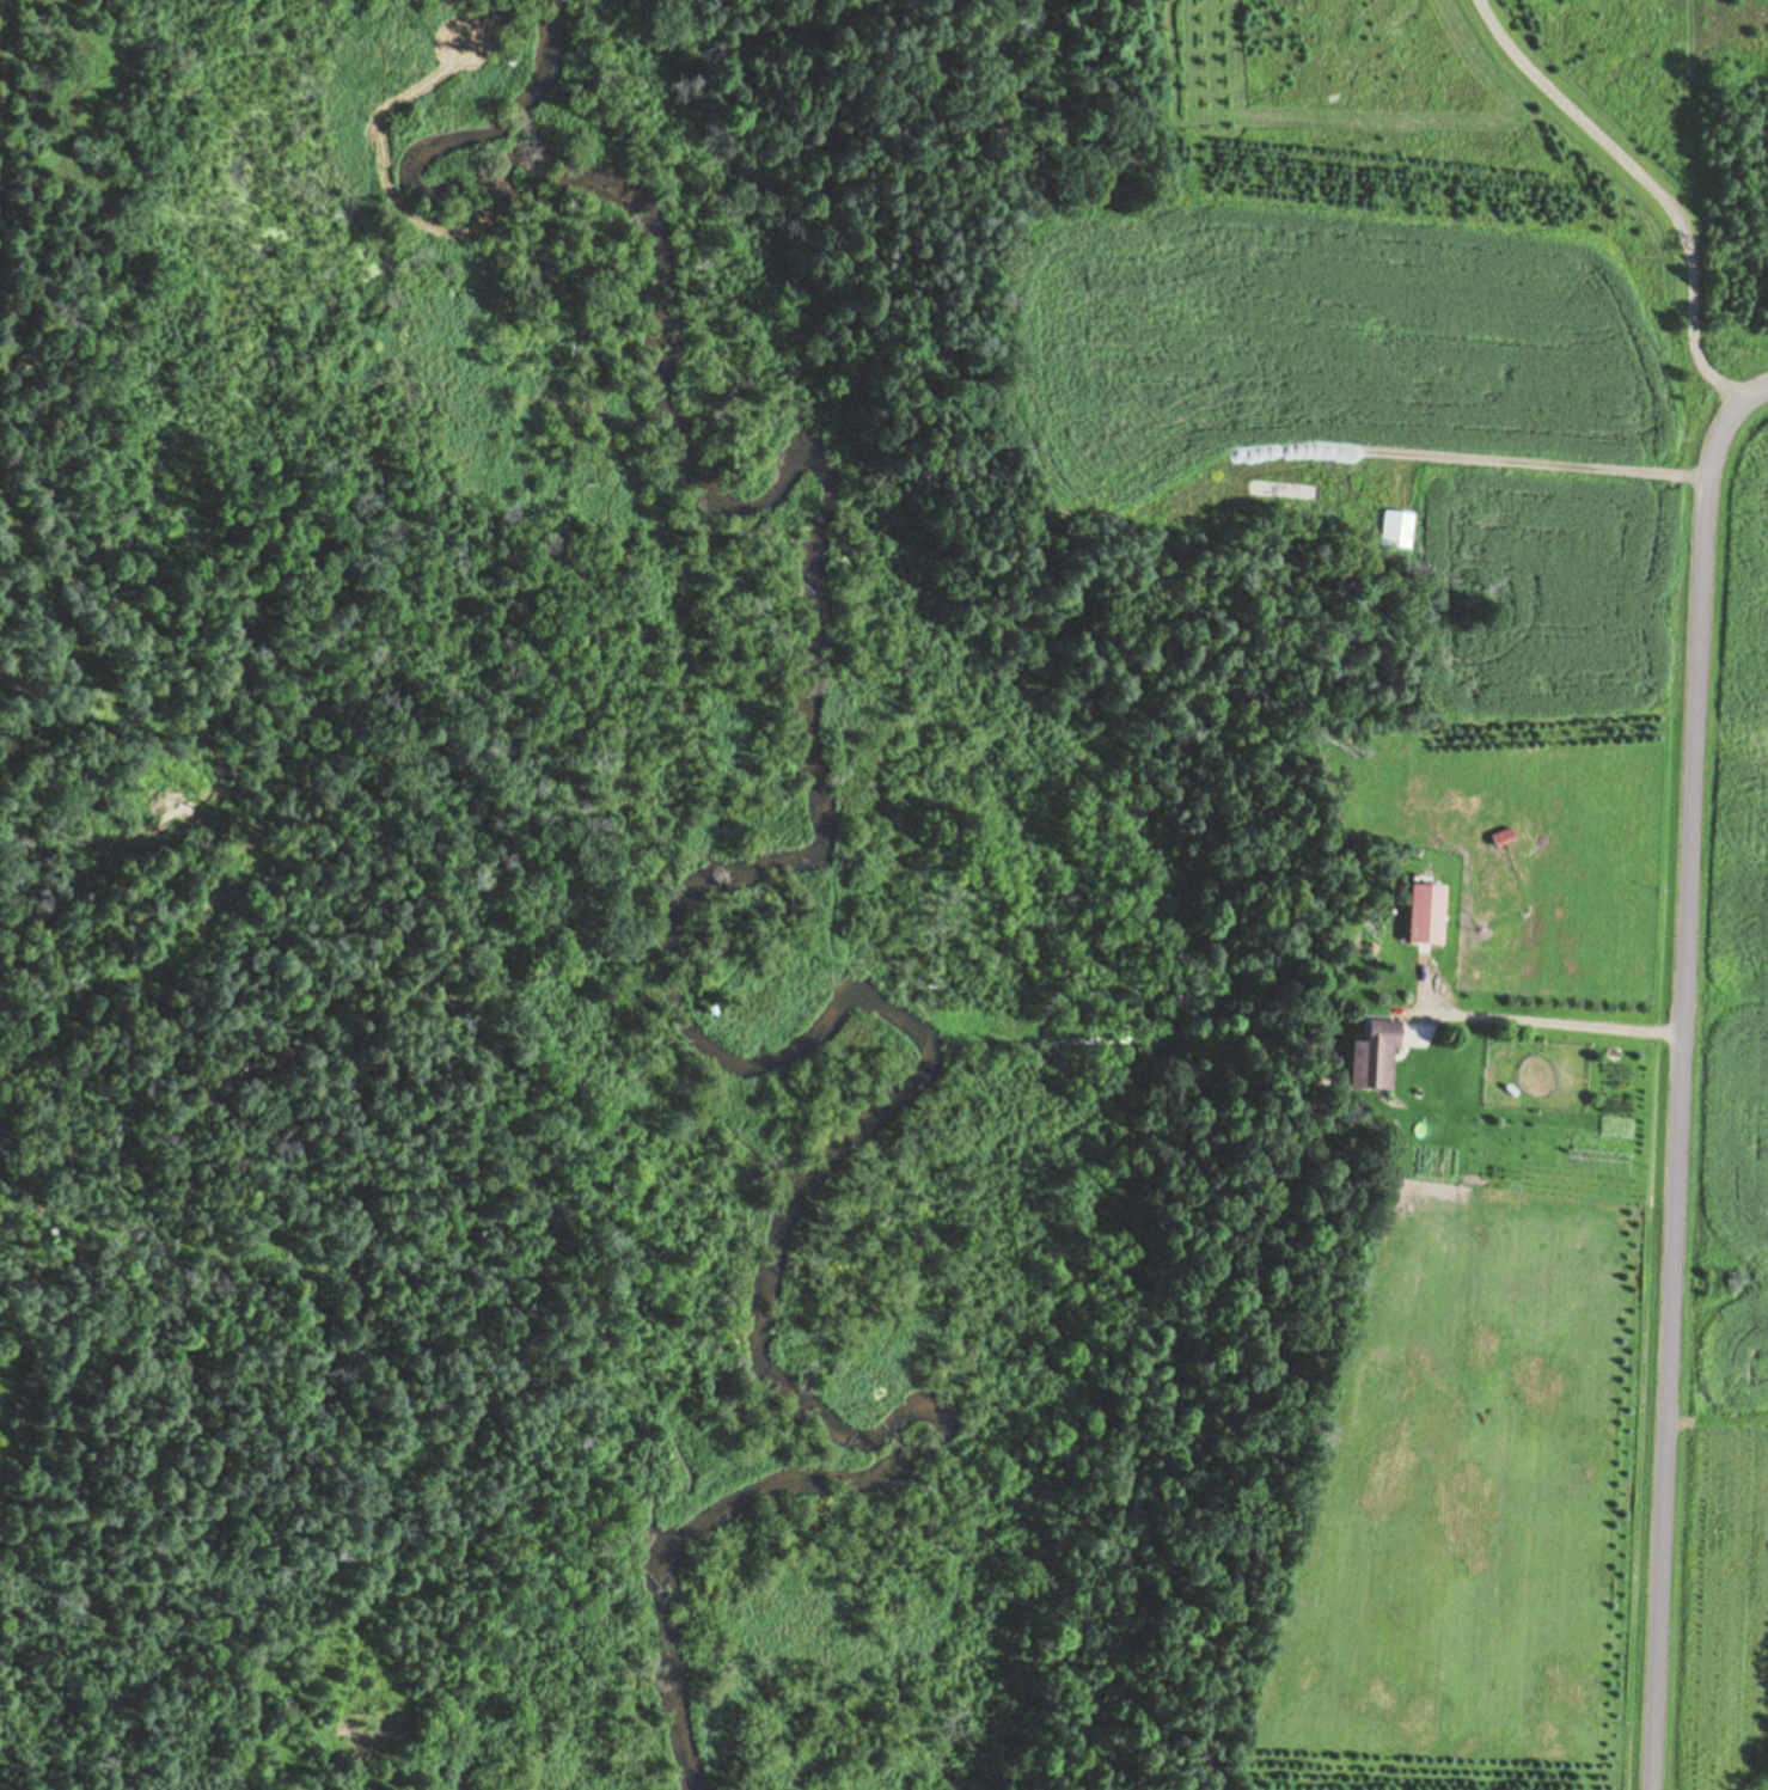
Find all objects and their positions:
road: (1741, 417)
building: (1283, 491)
building: (1397, 530)
building: (1503, 838)
building: (1425, 915)
building: (1372, 1058)
road: (1678, 1104)

